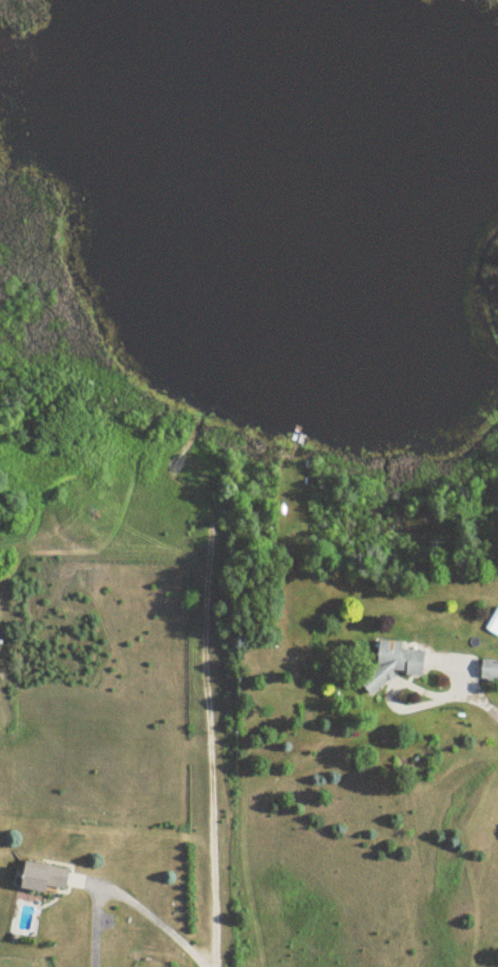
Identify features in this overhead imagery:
road: (162, 554)
road: (451, 661)
building: (392, 663)
building: (489, 668)
road: (466, 688)
road: (392, 704)
road: (493, 711)
road: (210, 762)
building: (41, 876)
road: (152, 919)

